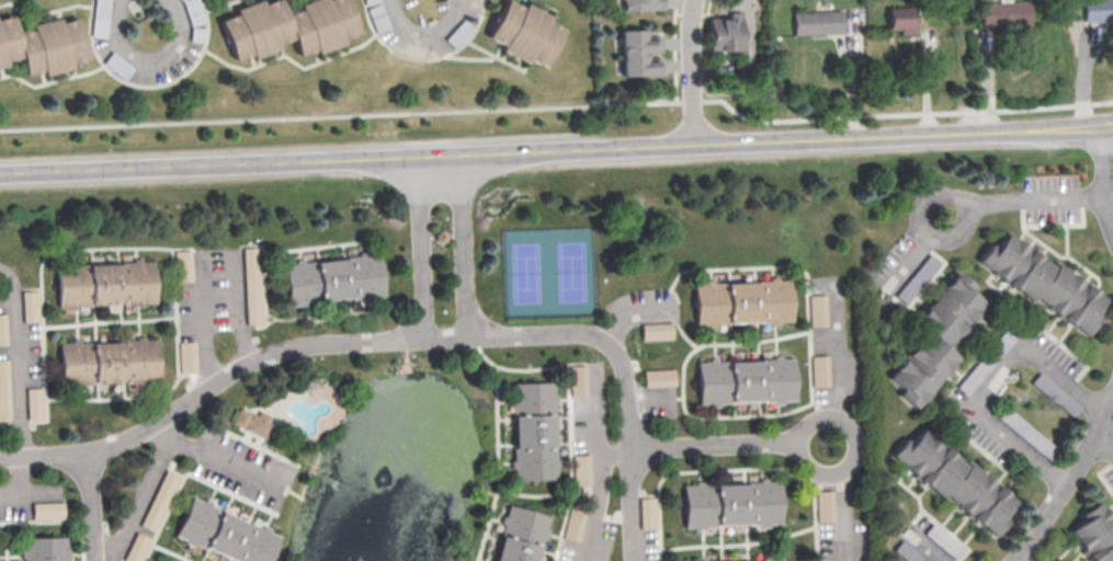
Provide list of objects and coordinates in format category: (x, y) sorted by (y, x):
building: (639, 4)
building: (1097, 11)
building: (896, 12)
building: (1003, 14)
building: (736, 22)
building: (815, 23)
building: (901, 24)
building: (99, 28)
building: (286, 28)
road: (424, 34)
building: (723, 34)
building: (523, 35)
building: (42, 46)
building: (638, 53)
road: (148, 69)
road: (691, 71)
road: (848, 76)
road: (559, 106)
road: (556, 150)
road: (1103, 161)
road: (1022, 199)
road: (1109, 203)
road: (463, 249)
road: (419, 252)
building: (183, 265)
road: (209, 265)
park: (549, 273)
building: (331, 282)
building: (252, 285)
building: (1037, 285)
building: (104, 286)
building: (816, 301)
building: (740, 304)
building: (31, 306)
road: (627, 314)
building: (3, 329)
building: (656, 331)
road: (347, 341)
building: (932, 341)
building: (188, 356)
road: (18, 362)
building: (106, 364)
building: (818, 370)
road: (836, 370)
building: (658, 377)
building: (577, 380)
road: (989, 380)
building: (743, 382)
building: (4, 390)
building: (35, 403)
building: (251, 423)
building: (531, 433)
road: (1104, 437)
road: (728, 448)
road: (213, 456)
building: (580, 469)
road: (1067, 479)
road: (20, 482)
building: (951, 482)
road: (595, 497)
building: (160, 500)
road: (138, 503)
road: (843, 503)
road: (631, 505)
building: (824, 505)
road: (90, 506)
building: (729, 506)
building: (48, 510)
building: (647, 512)
building: (575, 519)
building: (220, 535)
building: (1092, 536)
building: (519, 537)
building: (137, 548)
building: (42, 549)
building: (761, 560)

